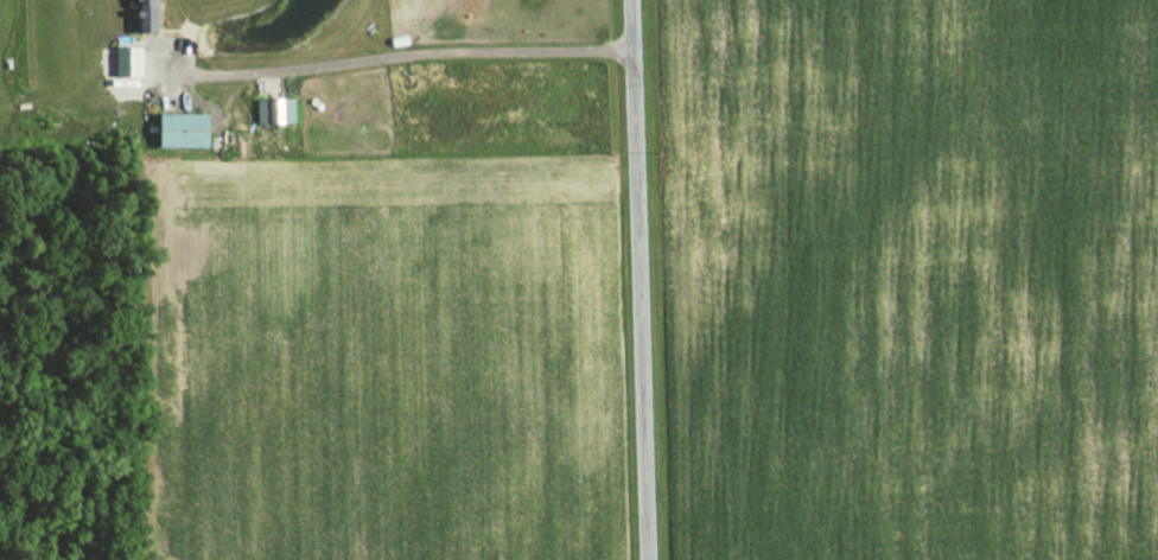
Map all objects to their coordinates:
road: (384, 61)
crop: (915, 278)
road: (641, 279)
crop: (375, 362)

